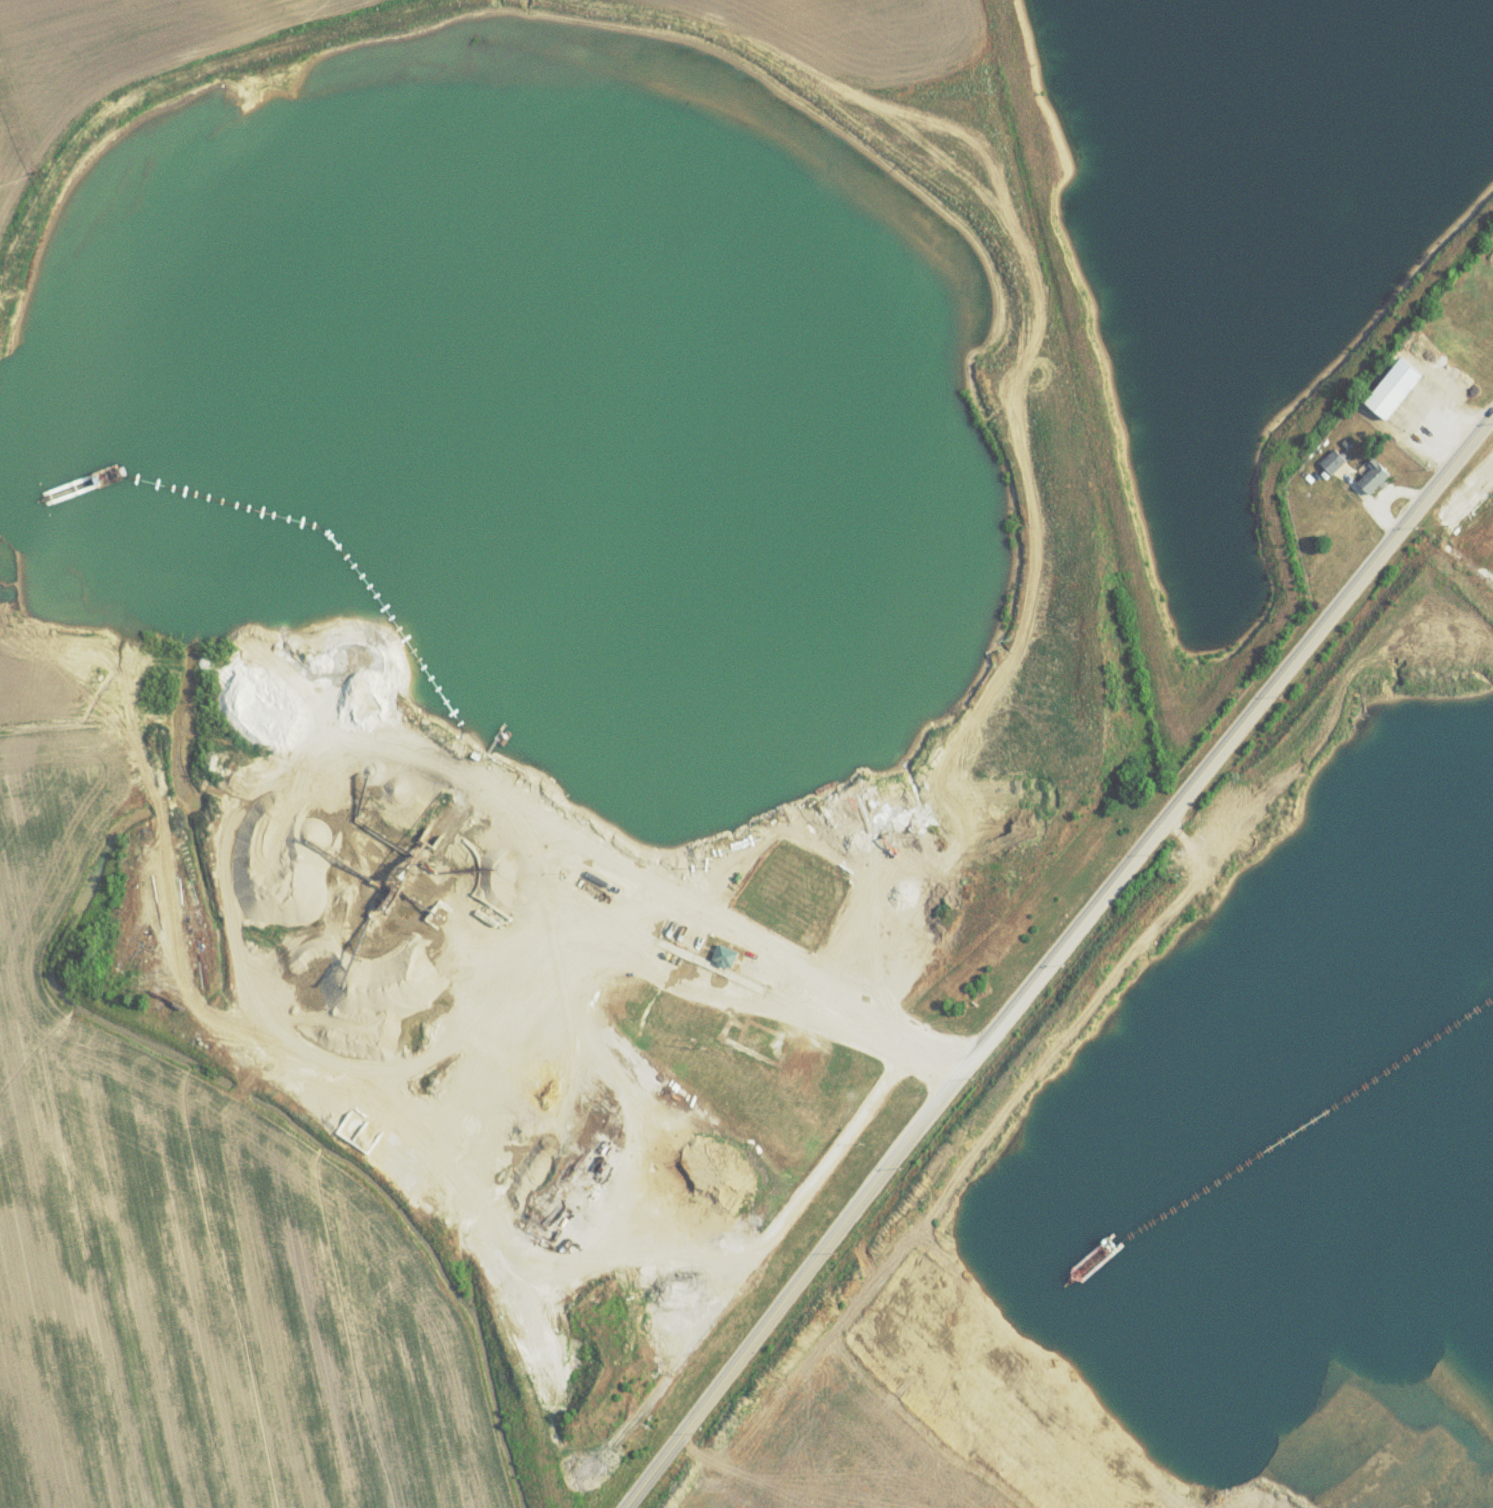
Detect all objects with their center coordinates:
road: (1059, 962)
quarry: (1421, 1204)

